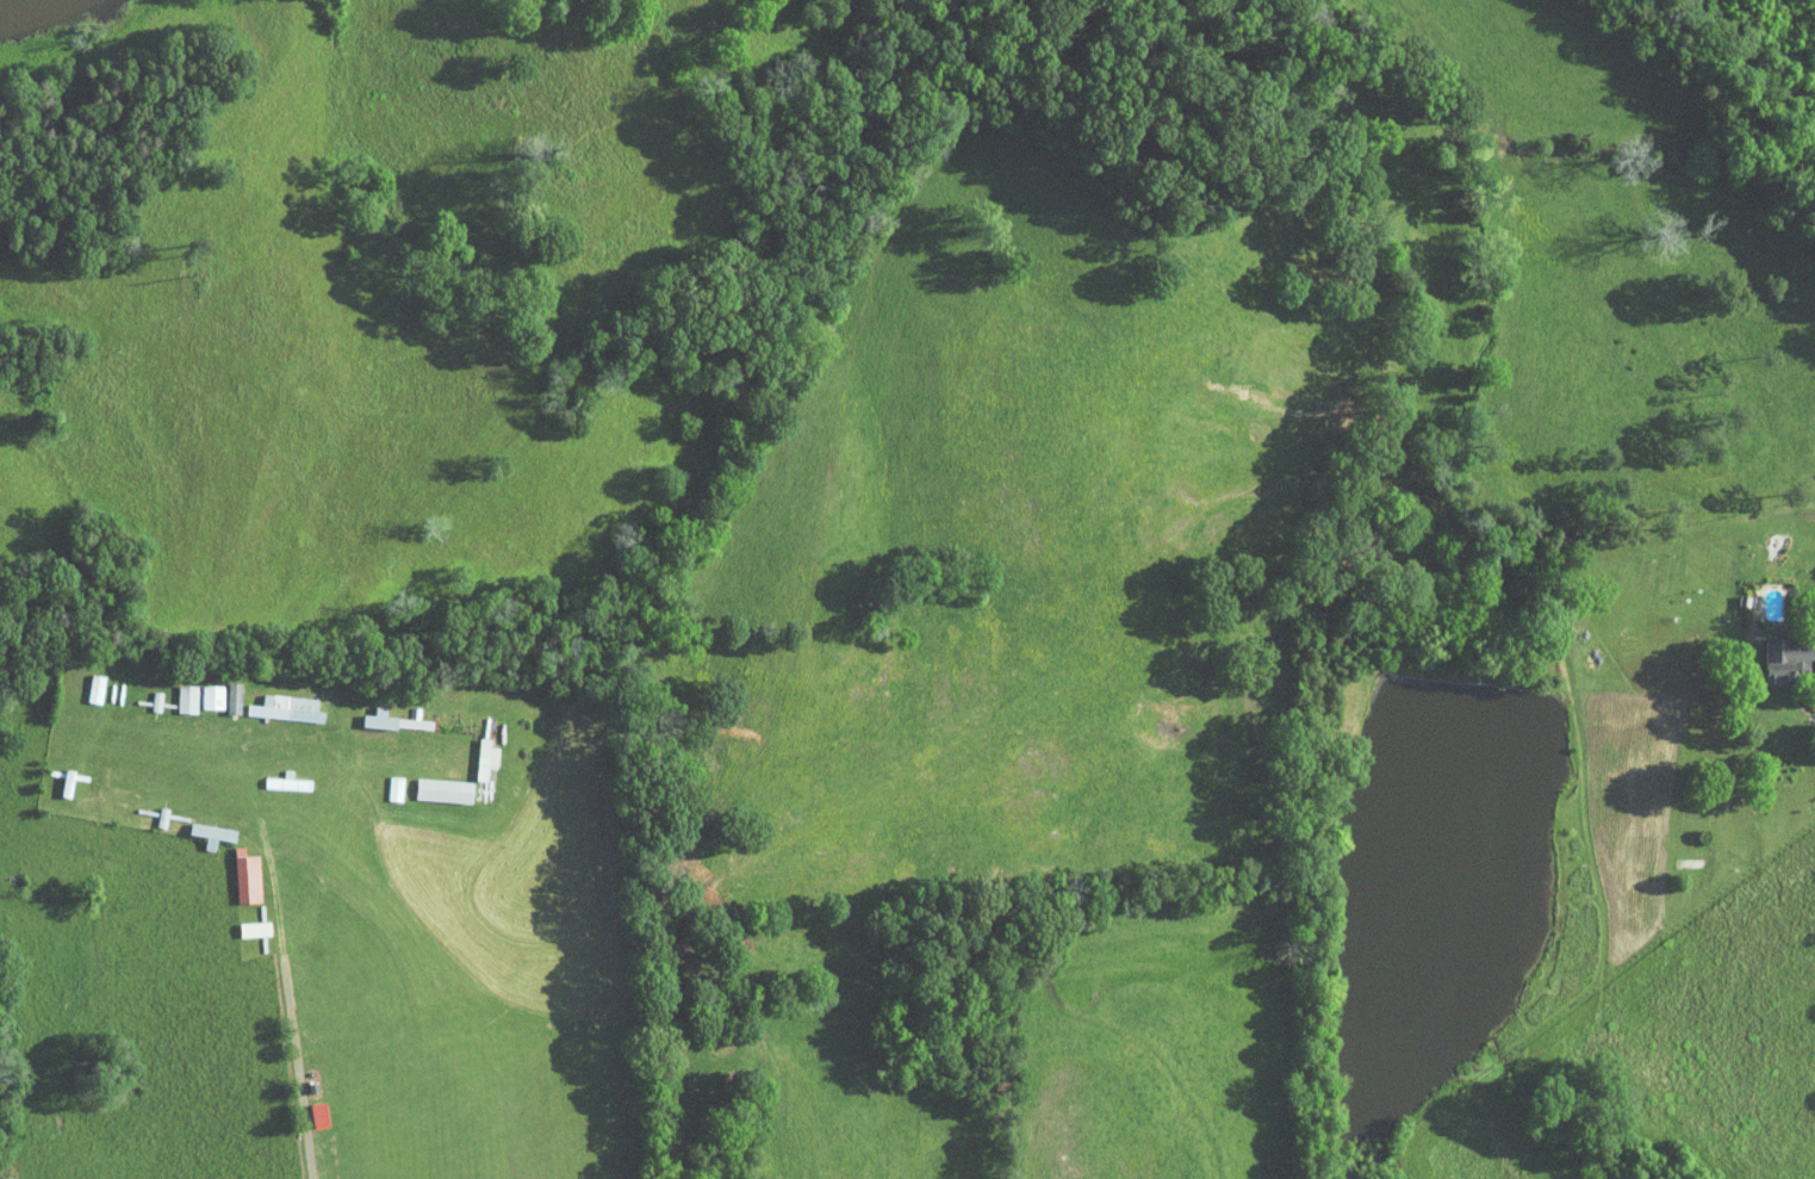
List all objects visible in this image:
building: (1783, 651)
building: (200, 689)
building: (174, 690)
building: (222, 690)
building: (275, 700)
building: (368, 710)
building: (474, 750)
building: (384, 780)
building: (433, 782)
building: (236, 869)
airport: (394, 892)
building: (244, 922)
road: (292, 1011)
building: (309, 1106)
airport runway: (520, 1123)

